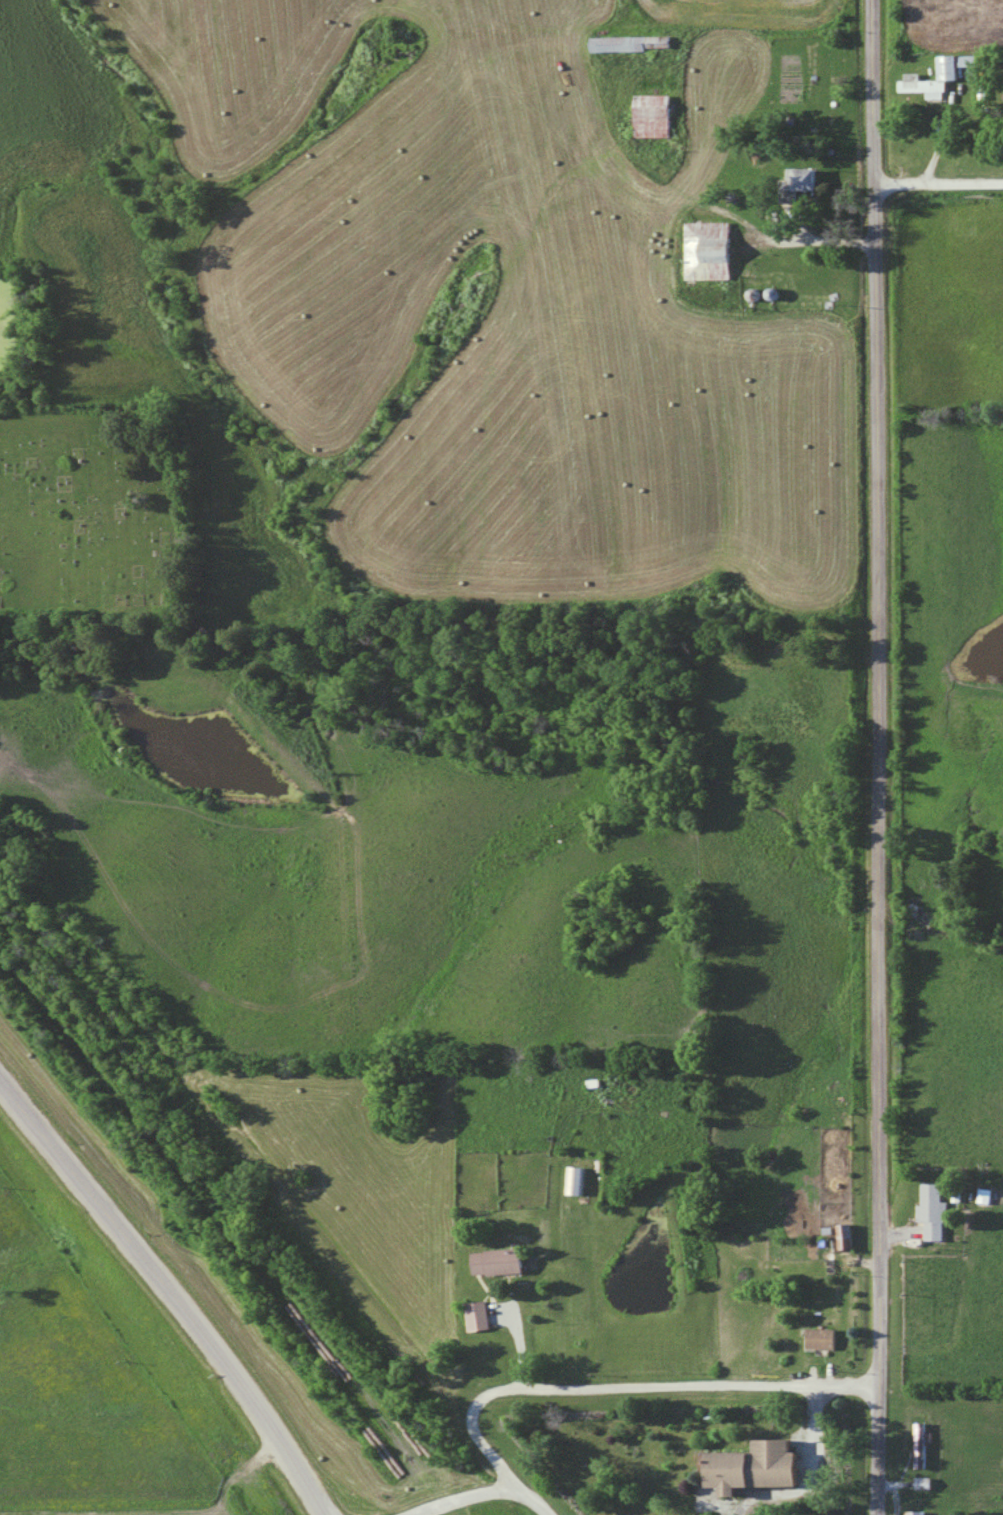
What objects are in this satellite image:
building: (631, 44)
building: (926, 88)
road: (869, 91)
building: (653, 116)
building: (809, 178)
road: (937, 181)
building: (709, 250)
park: (91, 510)
road: (874, 848)
building: (577, 1180)
building: (936, 1211)
building: (500, 1262)
road: (172, 1290)
building: (824, 1338)
road: (625, 1385)
building: (764, 1466)
road: (488, 1492)
building: (914, 1512)

